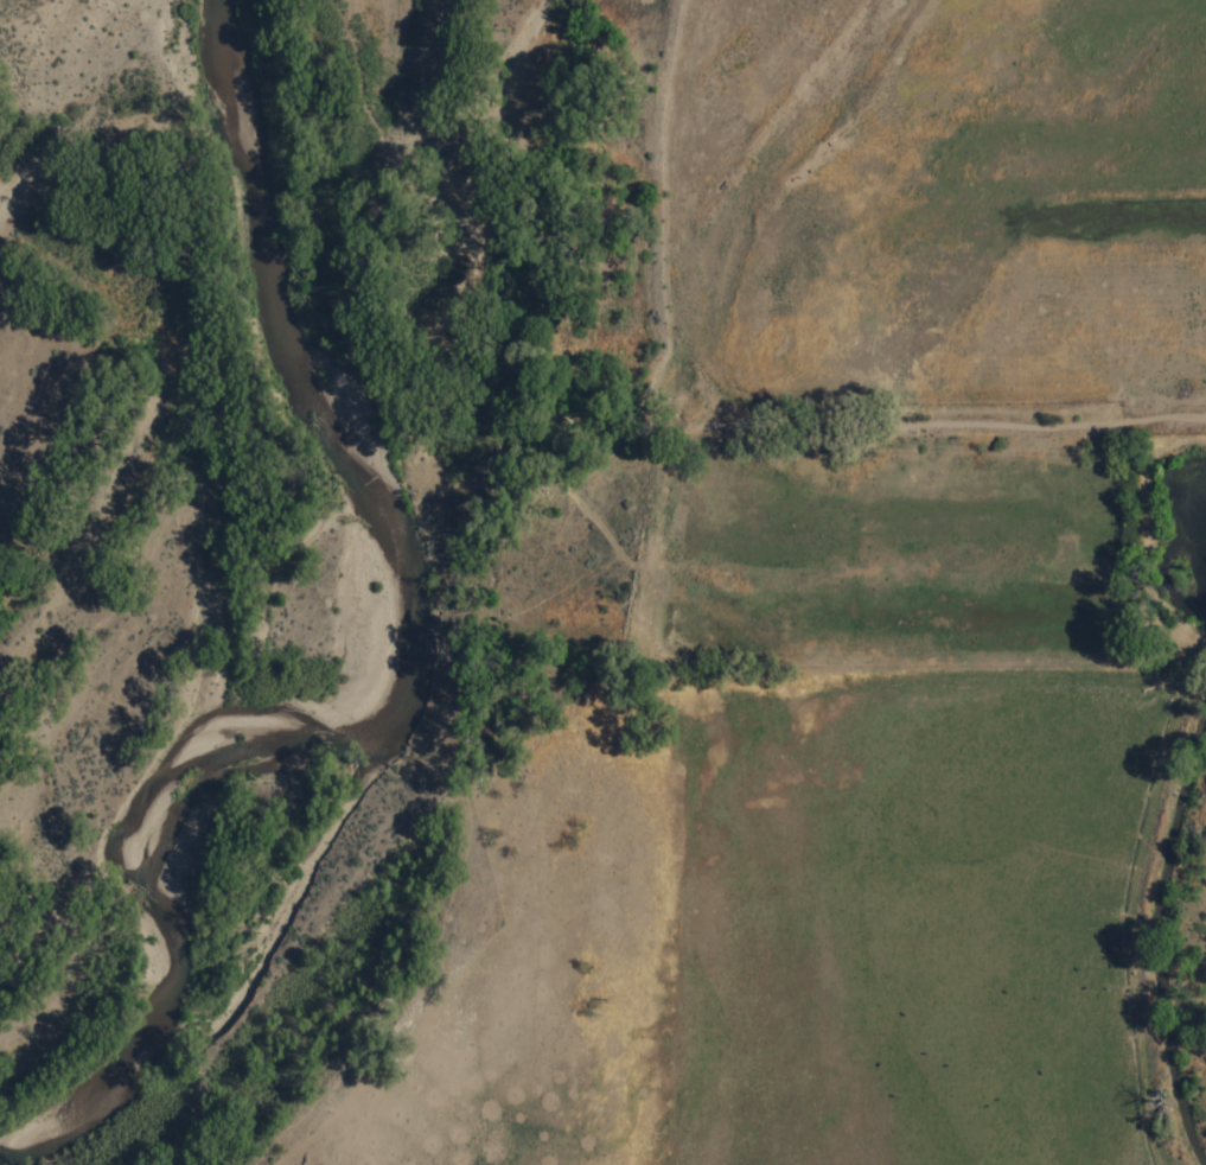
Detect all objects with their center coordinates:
river: (242, 584)

